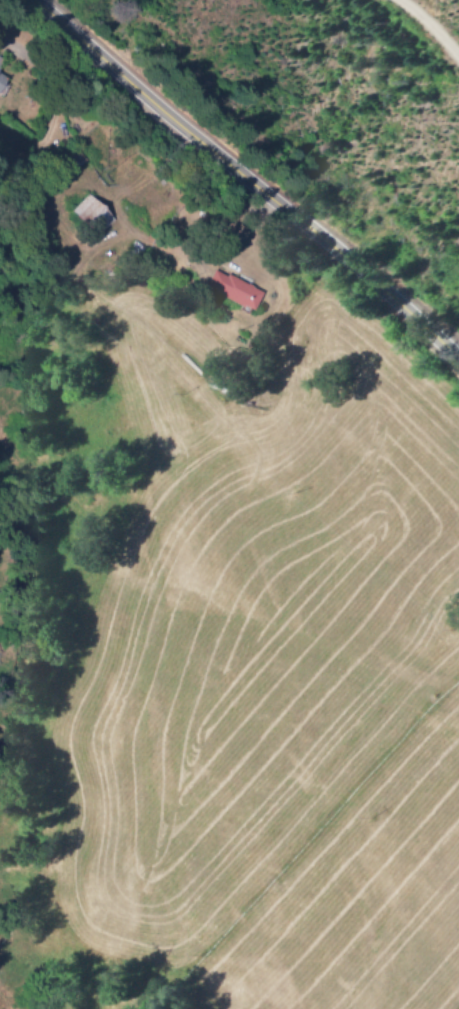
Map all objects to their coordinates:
road: (427, 31)
building: (3, 85)
road: (241, 183)
building: (86, 215)
building: (228, 287)

